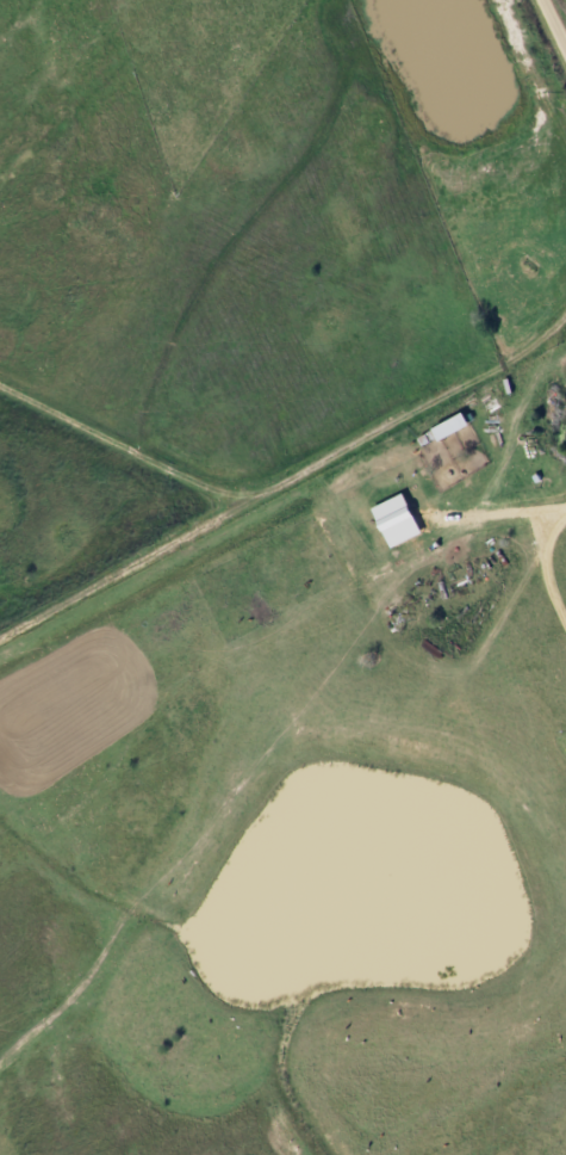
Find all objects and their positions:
road: (556, 18)
road: (207, 486)
road: (275, 688)

